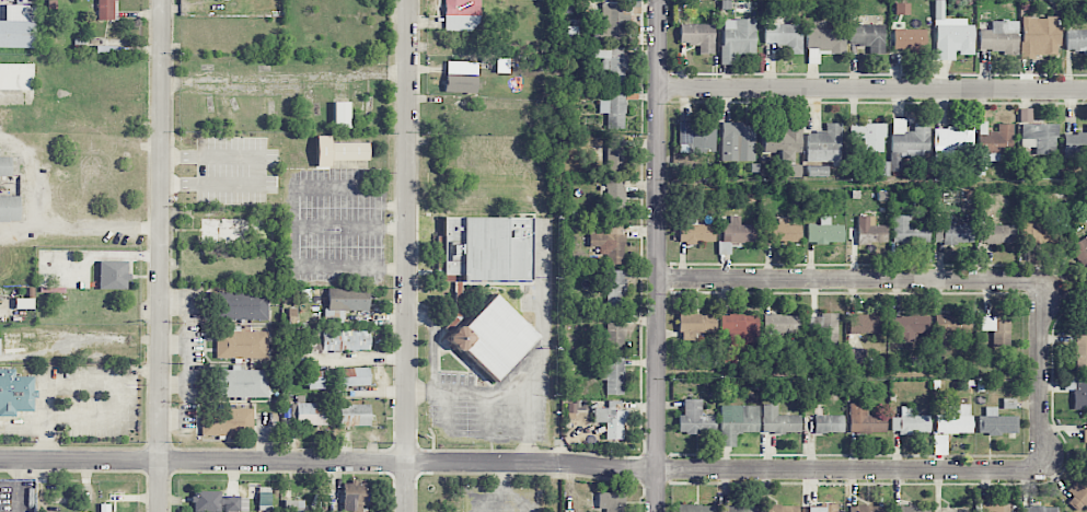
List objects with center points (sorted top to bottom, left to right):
building: (105, 9)
building: (461, 15)
building: (18, 25)
building: (950, 35)
building: (697, 36)
building: (784, 36)
building: (868, 36)
building: (998, 36)
building: (1039, 36)
building: (737, 38)
building: (909, 39)
building: (1075, 40)
building: (824, 43)
building: (611, 63)
building: (461, 83)
road: (872, 89)
building: (613, 109)
building: (340, 114)
building: (869, 136)
building: (696, 137)
building: (1041, 137)
building: (952, 139)
building: (738, 141)
building: (909, 141)
building: (824, 143)
building: (995, 143)
building: (1075, 146)
building: (785, 147)
building: (348, 151)
building: (614, 153)
building: (5, 165)
road: (261, 171)
building: (817, 171)
road: (320, 187)
building: (615, 199)
building: (10, 208)
road: (48, 223)
road: (16, 228)
building: (907, 230)
building: (870, 231)
building: (784, 232)
building: (824, 232)
building: (696, 233)
building: (955, 233)
building: (1041, 233)
building: (737, 234)
building: (997, 234)
building: (610, 244)
road: (297, 245)
building: (487, 248)
building: (1080, 252)
road: (160, 255)
road: (408, 255)
road: (658, 256)
building: (113, 275)
road: (898, 281)
building: (613, 288)
building: (345, 302)
building: (242, 305)
road: (551, 314)
building: (1086, 314)
building: (696, 322)
building: (780, 323)
building: (868, 324)
building: (953, 324)
building: (909, 326)
building: (740, 327)
building: (822, 327)
building: (996, 328)
building: (493, 337)
building: (614, 337)
building: (345, 340)
building: (241, 344)
building: (0, 352)
building: (1080, 352)
road: (433, 353)
building: (857, 356)
road: (186, 360)
building: (612, 375)
building: (354, 376)
building: (317, 379)
building: (243, 382)
building: (15, 392)
road: (518, 392)
building: (1079, 394)
road: (444, 407)
building: (310, 414)
road: (487, 414)
building: (354, 415)
building: (610, 418)
building: (694, 419)
building: (777, 420)
building: (865, 420)
building: (953, 420)
road: (45, 421)
building: (228, 422)
building: (736, 422)
building: (910, 422)
building: (996, 422)
building: (828, 423)
building: (1085, 433)
road: (566, 466)
road: (18, 485)
building: (1078, 492)
building: (355, 496)
building: (215, 502)
building: (293, 505)
building: (694, 508)
building: (780, 508)
building: (822, 508)
building: (994, 508)
building: (737, 509)
building: (866, 509)
building: (911, 509)
building: (1039, 509)
building: (130, 511)

